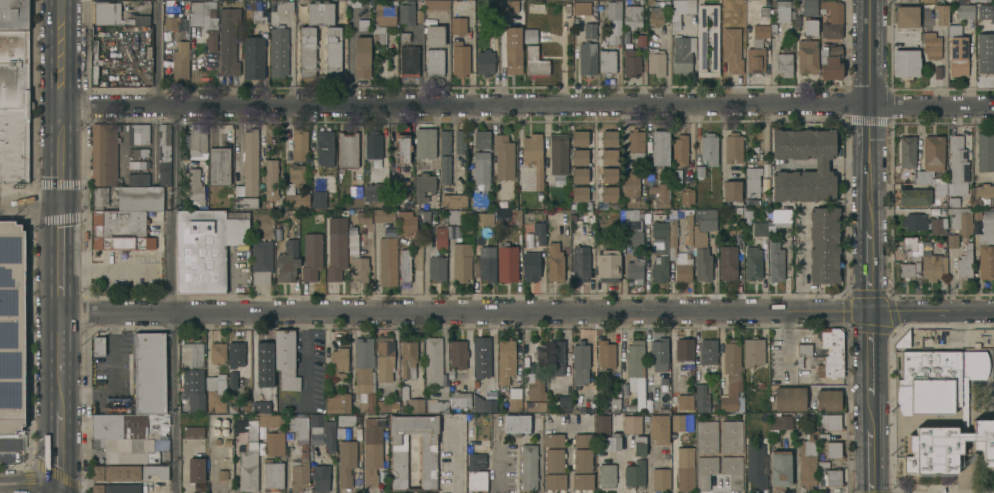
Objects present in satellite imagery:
building: (977, 0)
building: (931, 1)
building: (655, 3)
building: (436, 5)
building: (284, 6)
building: (507, 6)
building: (683, 6)
building: (461, 7)
building: (581, 7)
building: (534, 8)
building: (809, 8)
building: (781, 9)
building: (832, 10)
building: (965, 10)
building: (107, 13)
building: (320, 13)
building: (407, 13)
building: (941, 13)
building: (992, 13)
building: (203, 14)
building: (384, 14)
building: (632, 15)
building: (655, 15)
building: (906, 16)
building: (140, 19)
building: (257, 21)
building: (176, 22)
building: (614, 22)
building: (458, 25)
building: (810, 26)
building: (831, 30)
building: (590, 31)
building: (378, 34)
building: (434, 35)
building: (530, 35)
building: (210, 38)
building: (228, 41)
building: (714, 42)
building: (931, 45)
building: (758, 46)
building: (732, 49)
building: (307, 51)
building: (333, 51)
building: (957, 51)
building: (279, 52)
road: (157, 53)
building: (682, 54)
road: (869, 54)
building: (985, 54)
building: (362, 56)
building: (807, 56)
building: (253, 57)
building: (460, 58)
building: (587, 58)
building: (180, 60)
building: (409, 60)
building: (513, 61)
building: (607, 61)
building: (830, 61)
building: (435, 62)
building: (485, 62)
building: (535, 62)
building: (631, 62)
building: (656, 63)
building: (783, 63)
building: (906, 63)
building: (936, 72)
building: (14, 91)
road: (61, 104)
road: (465, 107)
road: (931, 108)
building: (138, 133)
building: (580, 137)
building: (609, 137)
building: (481, 138)
building: (445, 141)
building: (460, 141)
building: (197, 142)
building: (425, 142)
building: (636, 143)
building: (299, 144)
building: (325, 147)
building: (660, 147)
building: (733, 147)
building: (372, 148)
building: (709, 148)
building: (680, 149)
building: (348, 150)
building: (985, 151)
building: (138, 152)
building: (907, 152)
building: (164, 153)
building: (533, 153)
building: (104, 154)
building: (504, 156)
building: (580, 156)
building: (609, 156)
building: (559, 157)
building: (401, 158)
building: (957, 159)
building: (932, 163)
building: (138, 164)
building: (821, 164)
building: (219, 165)
building: (445, 169)
building: (248, 173)
building: (296, 174)
building: (580, 174)
building: (609, 174)
building: (480, 176)
building: (271, 177)
building: (138, 178)
building: (752, 181)
building: (634, 184)
building: (424, 186)
building: (195, 188)
building: (732, 190)
building: (356, 191)
building: (371, 192)
building: (580, 193)
building: (609, 193)
building: (659, 195)
building: (982, 195)
building: (686, 196)
building: (914, 196)
building: (295, 197)
building: (98, 198)
building: (139, 198)
building: (318, 199)
building: (453, 200)
road: (31, 209)
traffic signals: (62, 209)
road: (171, 209)
road: (869, 211)
building: (630, 213)
building: (765, 213)
building: (384, 214)
building: (508, 215)
building: (428, 216)
building: (363, 217)
building: (706, 218)
building: (484, 219)
building: (781, 220)
building: (961, 220)
building: (915, 221)
building: (406, 222)
building: (987, 223)
building: (123, 224)
building: (937, 225)
building: (659, 228)
building: (760, 228)
building: (539, 232)
building: (634, 232)
building: (441, 235)
building: (679, 235)
building: (699, 237)
building: (952, 240)
building: (907, 243)
building: (660, 245)
building: (824, 245)
building: (205, 247)
road: (61, 252)
building: (336, 255)
building: (311, 256)
road: (799, 260)
building: (261, 261)
building: (287, 261)
building: (387, 261)
building: (775, 261)
building: (965, 261)
building: (986, 261)
building: (461, 262)
building: (555, 262)
building: (728, 262)
building: (507, 263)
building: (580, 263)
building: (753, 263)
building: (702, 264)
building: (405, 265)
building: (531, 265)
building: (608, 265)
building: (933, 265)
building: (437, 266)
building: (487, 267)
building: (359, 268)
building: (659, 268)
building: (910, 269)
building: (633, 270)
building: (682, 272)
road: (429, 312)
road: (931, 313)
road: (834, 314)
building: (12, 328)
road: (59, 333)
building: (901, 340)
building: (823, 344)
building: (98, 345)
building: (659, 349)
building: (685, 349)
building: (708, 351)
building: (753, 351)
building: (218, 353)
building: (458, 353)
building: (236, 354)
building: (606, 354)
building: (481, 357)
building: (556, 357)
building: (286, 358)
building: (385, 358)
building: (408, 358)
building: (338, 361)
building: (433, 361)
building: (505, 361)
building: (580, 361)
building: (803, 361)
building: (263, 364)
building: (829, 366)
building: (635, 372)
building: (149, 373)
building: (364, 373)
building: (193, 374)
building: (732, 377)
building: (232, 380)
building: (936, 380)
building: (261, 383)
building: (536, 388)
road: (59, 390)
building: (215, 394)
building: (701, 398)
building: (789, 398)
building: (459, 399)
building: (515, 399)
building: (828, 399)
road: (171, 402)
building: (337, 402)
building: (564, 403)
building: (608, 403)
building: (683, 403)
road: (872, 403)
building: (483, 404)
building: (416, 405)
building: (436, 405)
building: (383, 406)
building: (534, 406)
building: (260, 407)
building: (271, 419)
building: (780, 420)
building: (830, 421)
building: (677, 422)
building: (516, 424)
building: (631, 424)
building: (128, 425)
building: (602, 425)
building: (316, 426)
building: (659, 428)
building: (194, 432)
building: (329, 434)
building: (706, 436)
building: (731, 436)
building: (553, 439)
building: (582, 440)
building: (613, 441)
building: (98, 443)
building: (274, 443)
road: (10, 444)
building: (640, 445)
road: (58, 446)
building: (138, 446)
building: (304, 448)
building: (946, 448)
building: (372, 449)
building: (833, 449)
building: (124, 458)
building: (249, 459)
building: (807, 459)
road: (458, 460)
building: (554, 460)
building: (582, 460)
building: (346, 461)
building: (399, 462)
building: (823, 463)
building: (755, 465)
building: (528, 466)
building: (685, 468)
building: (195, 469)
building: (780, 469)
building: (732, 470)
building: (155, 471)
building: (475, 471)
building: (704, 471)
building: (97, 472)
building: (122, 472)
building: (634, 474)
building: (272, 475)
building: (607, 475)
building: (321, 477)
building: (833, 477)
building: (821, 478)
building: (661, 479)
building: (554, 481)
building: (582, 481)
road: (29, 483)
traffic signals: (58, 483)
road: (58, 488)
building: (97, 488)
building: (122, 488)

